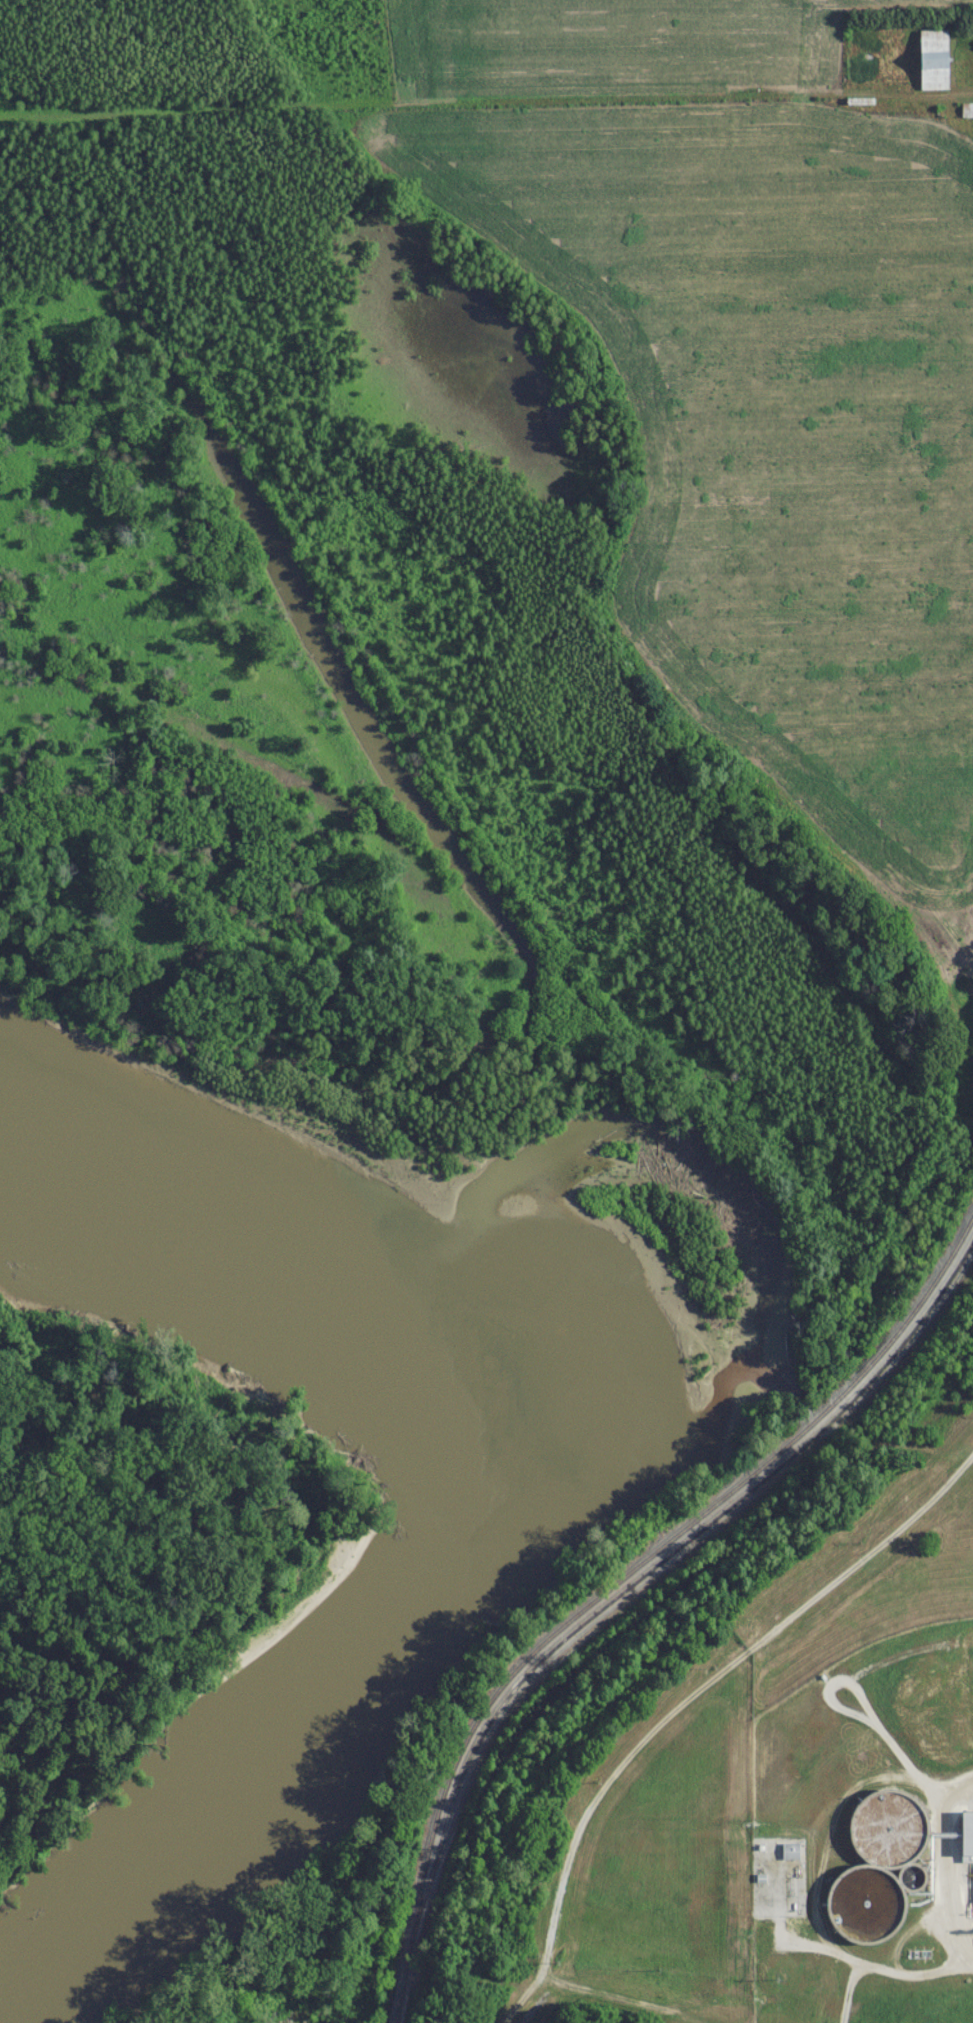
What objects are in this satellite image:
building: (932, 64)
road: (486, 103)
building: (859, 105)
building: (966, 114)
river: (547, 1478)
railway: (656, 1568)
railway: (623, 1579)
railway: (555, 1662)
road: (686, 1702)
building: (966, 1837)
building: (788, 1855)
building: (759, 1883)
building: (865, 1911)
building: (306, 2017)

